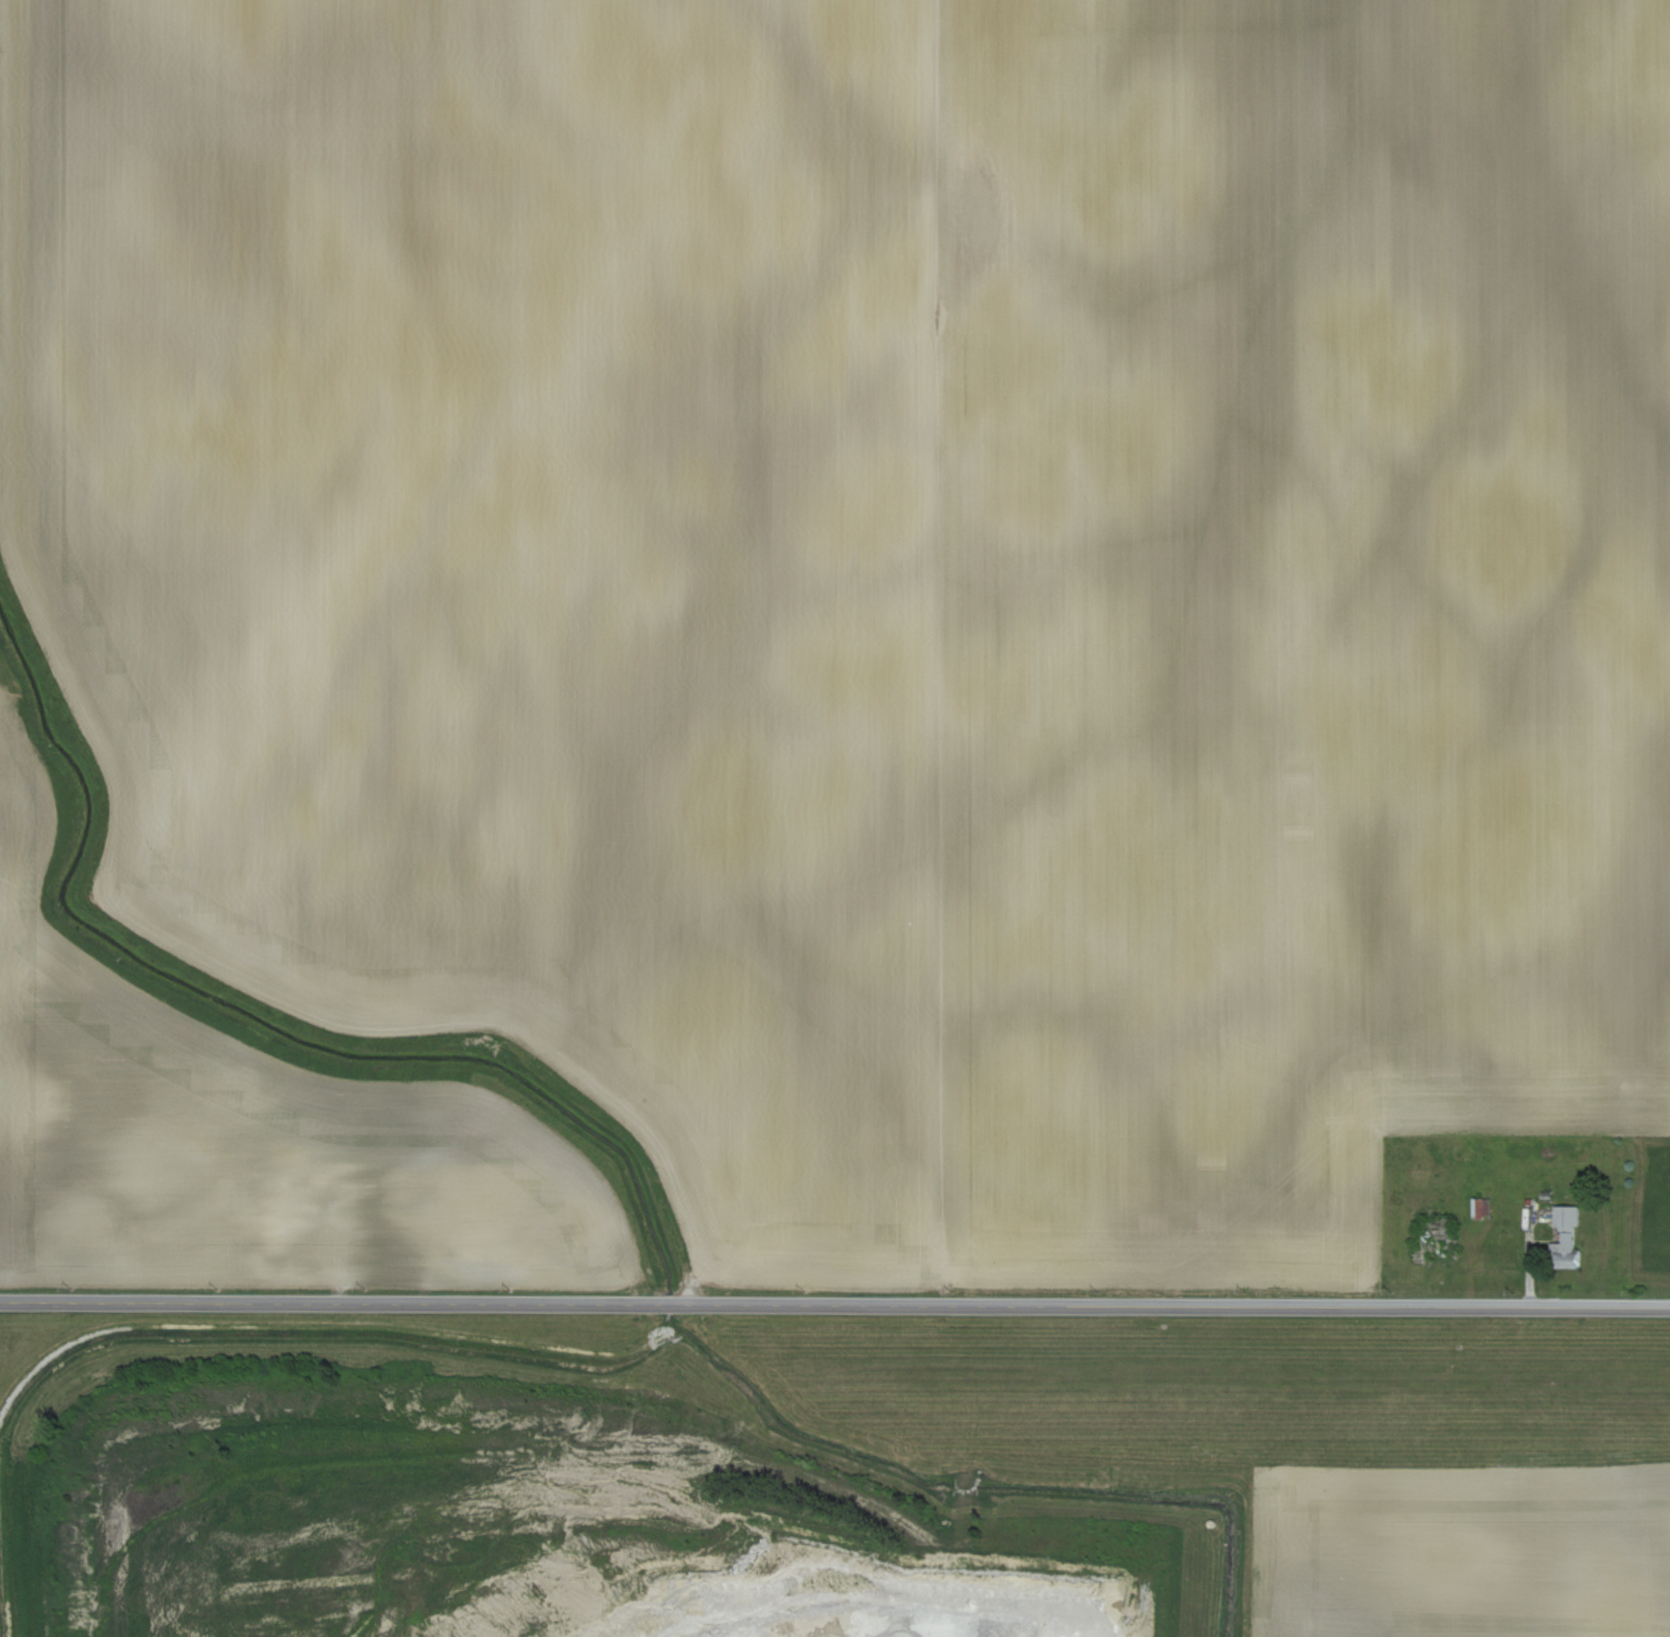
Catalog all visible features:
building: (275, 1220)
building: (339, 1220)
building: (1566, 1237)
road: (834, 1306)
quarry: (831, 1477)

